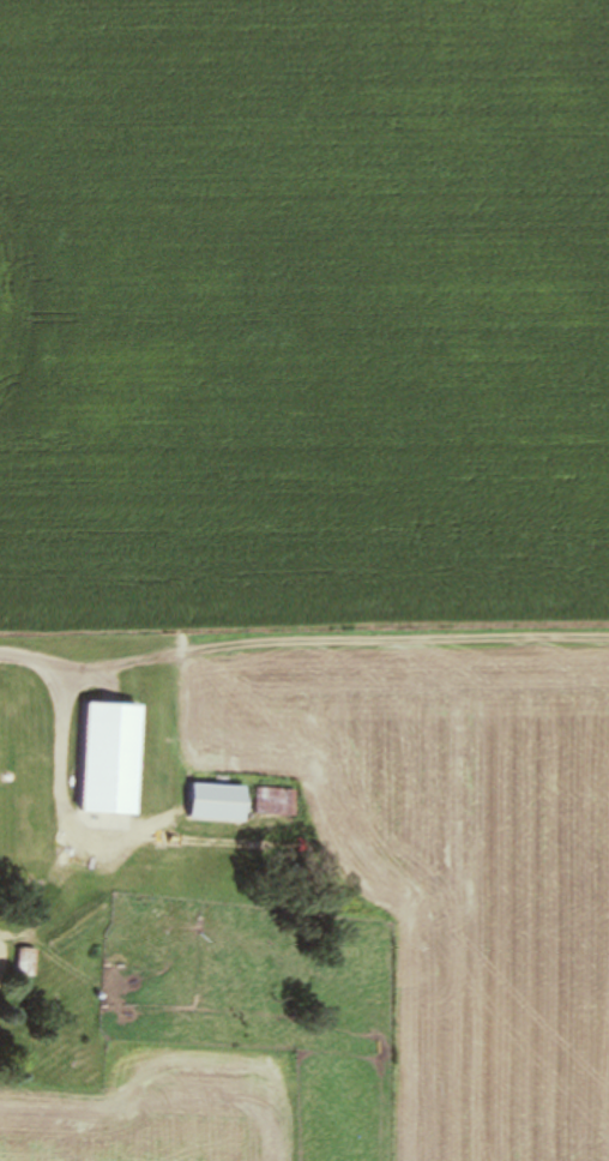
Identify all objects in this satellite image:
road: (64, 750)
building: (114, 759)
building: (5, 764)
building: (273, 800)
building: (221, 802)
building: (381, 852)
building: (175, 908)
road: (1, 955)

